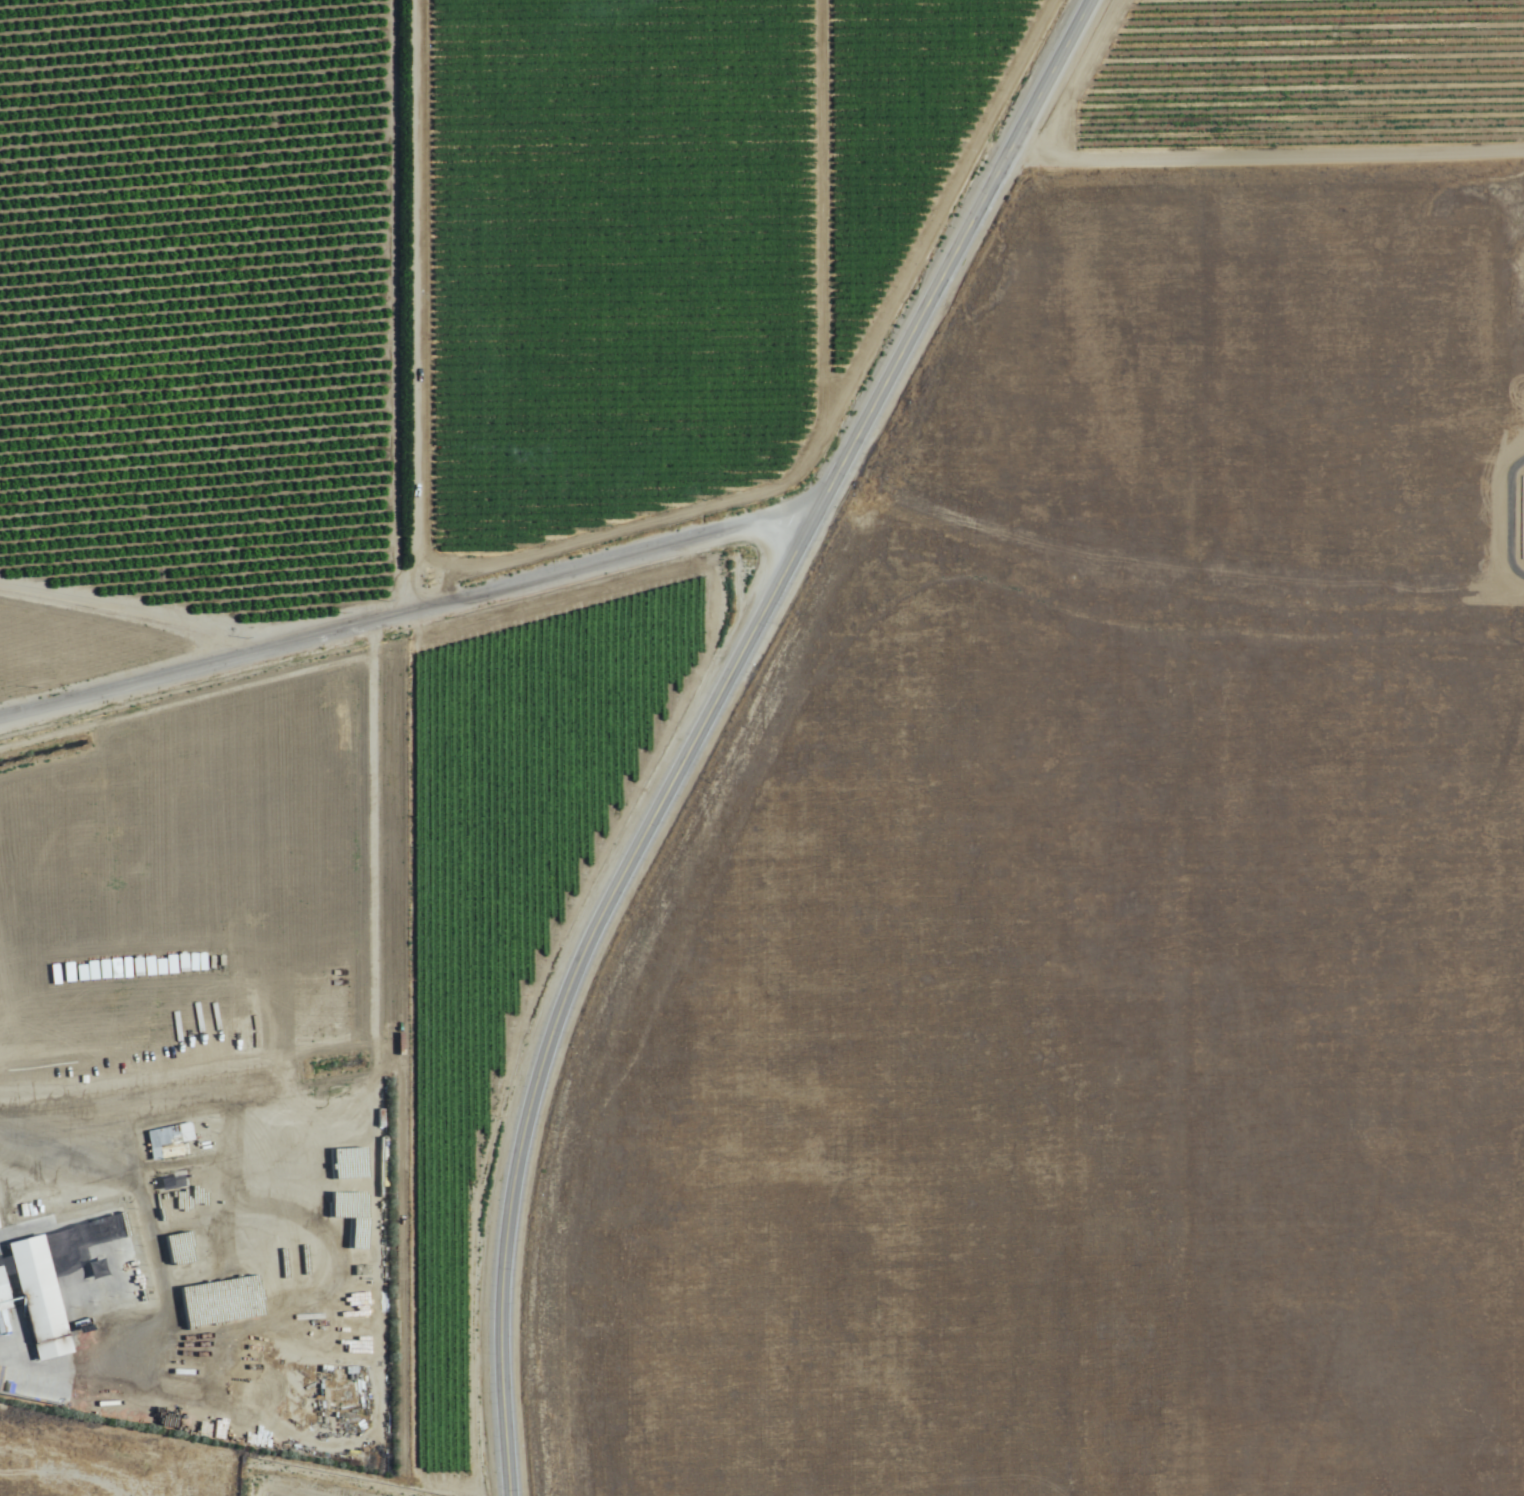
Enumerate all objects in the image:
road: (403, 141)
road: (1257, 194)
road: (409, 615)
road: (143, 618)
road: (707, 720)
crop: (798, 720)
building: (169, 1139)
building: (48, 1271)
wastewater plant: (328, 1294)

